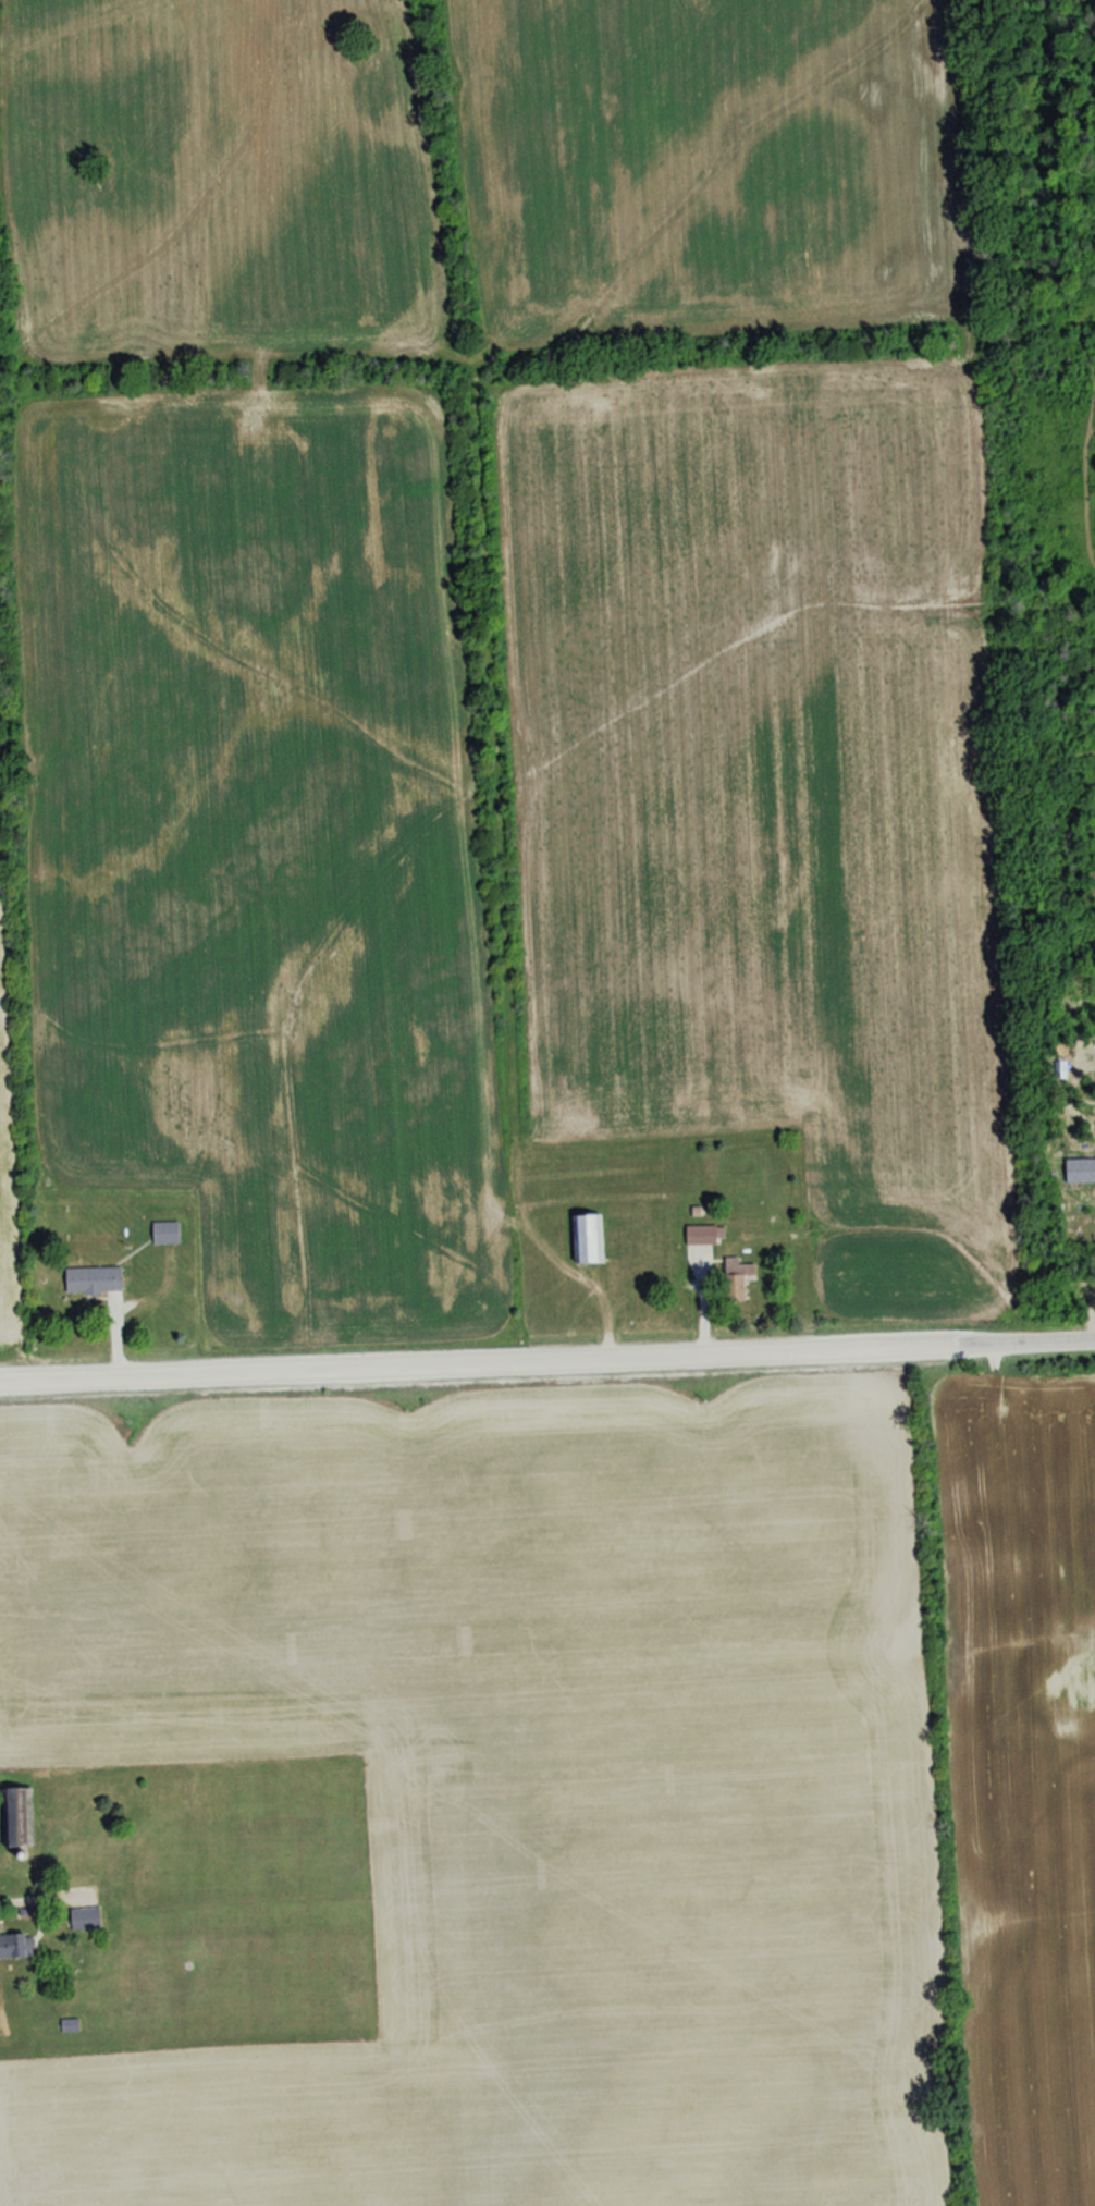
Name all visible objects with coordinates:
building: (163, 1233)
building: (701, 1235)
building: (583, 1239)
building: (89, 1279)
building: (734, 1279)
road: (1026, 1341)
road: (479, 1363)
building: (16, 1817)
building: (20, 1947)
building: (66, 2025)

